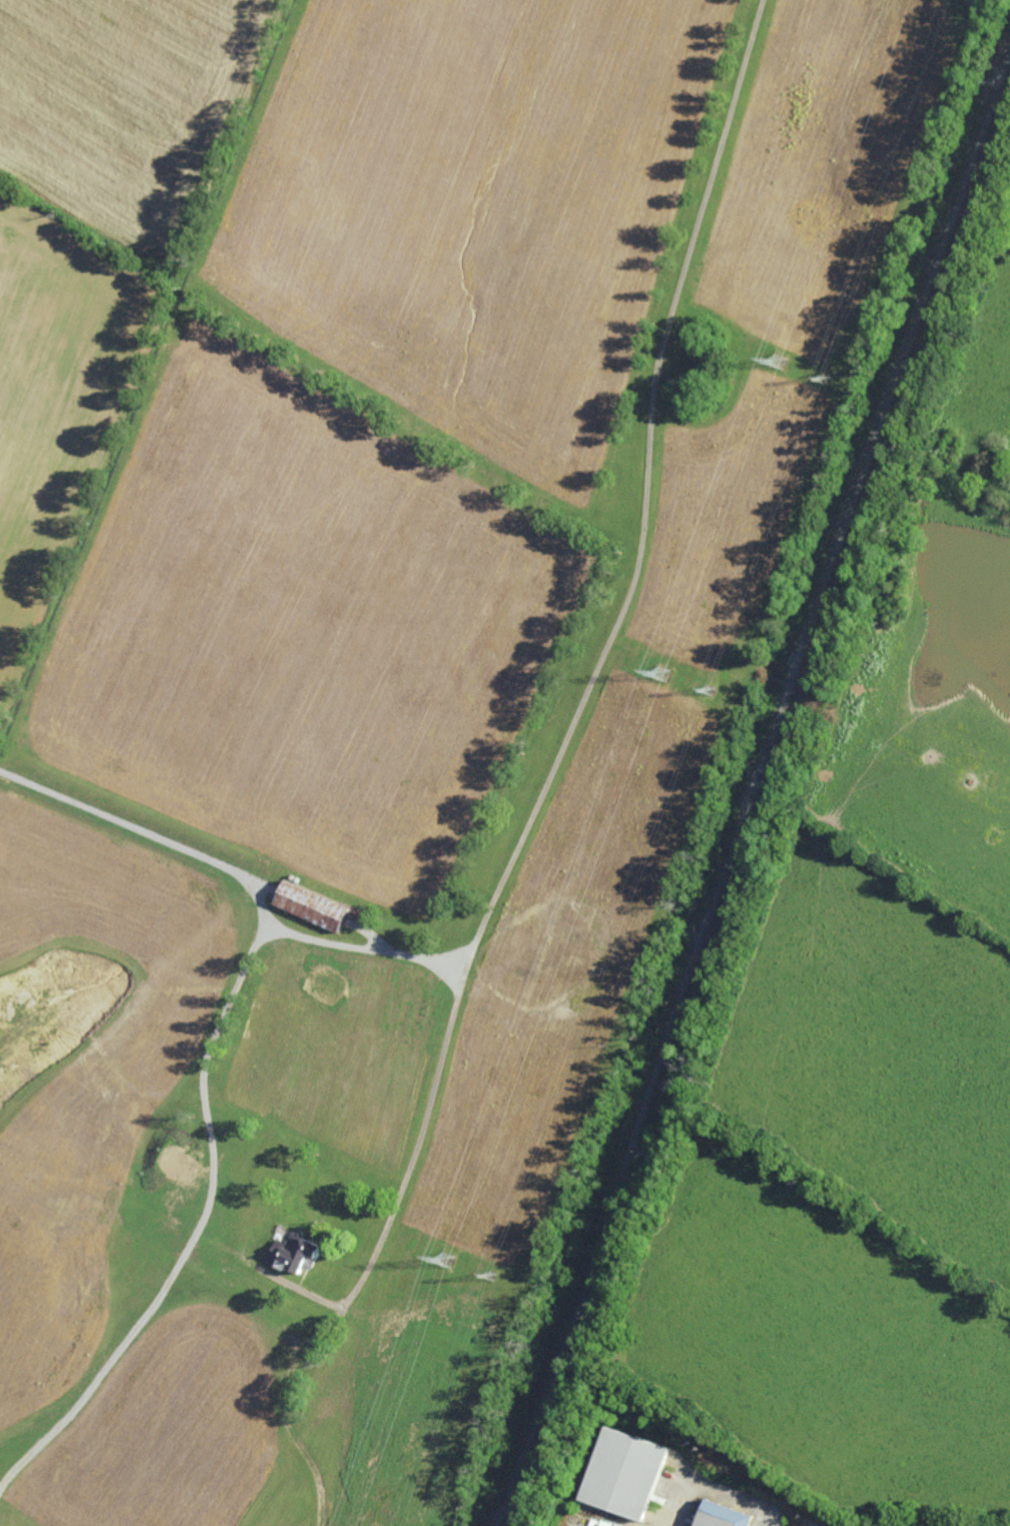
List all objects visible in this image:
road: (992, 8)
power tower: (785, 365)
power tower: (823, 380)
power tower: (668, 676)
power tower: (715, 692)
road: (582, 709)
railway: (752, 800)
road: (240, 873)
building: (313, 905)
road: (195, 1231)
building: (296, 1253)
power tower: (452, 1266)
power tower: (495, 1281)
building: (622, 1473)
road: (709, 1489)
building: (714, 1519)

